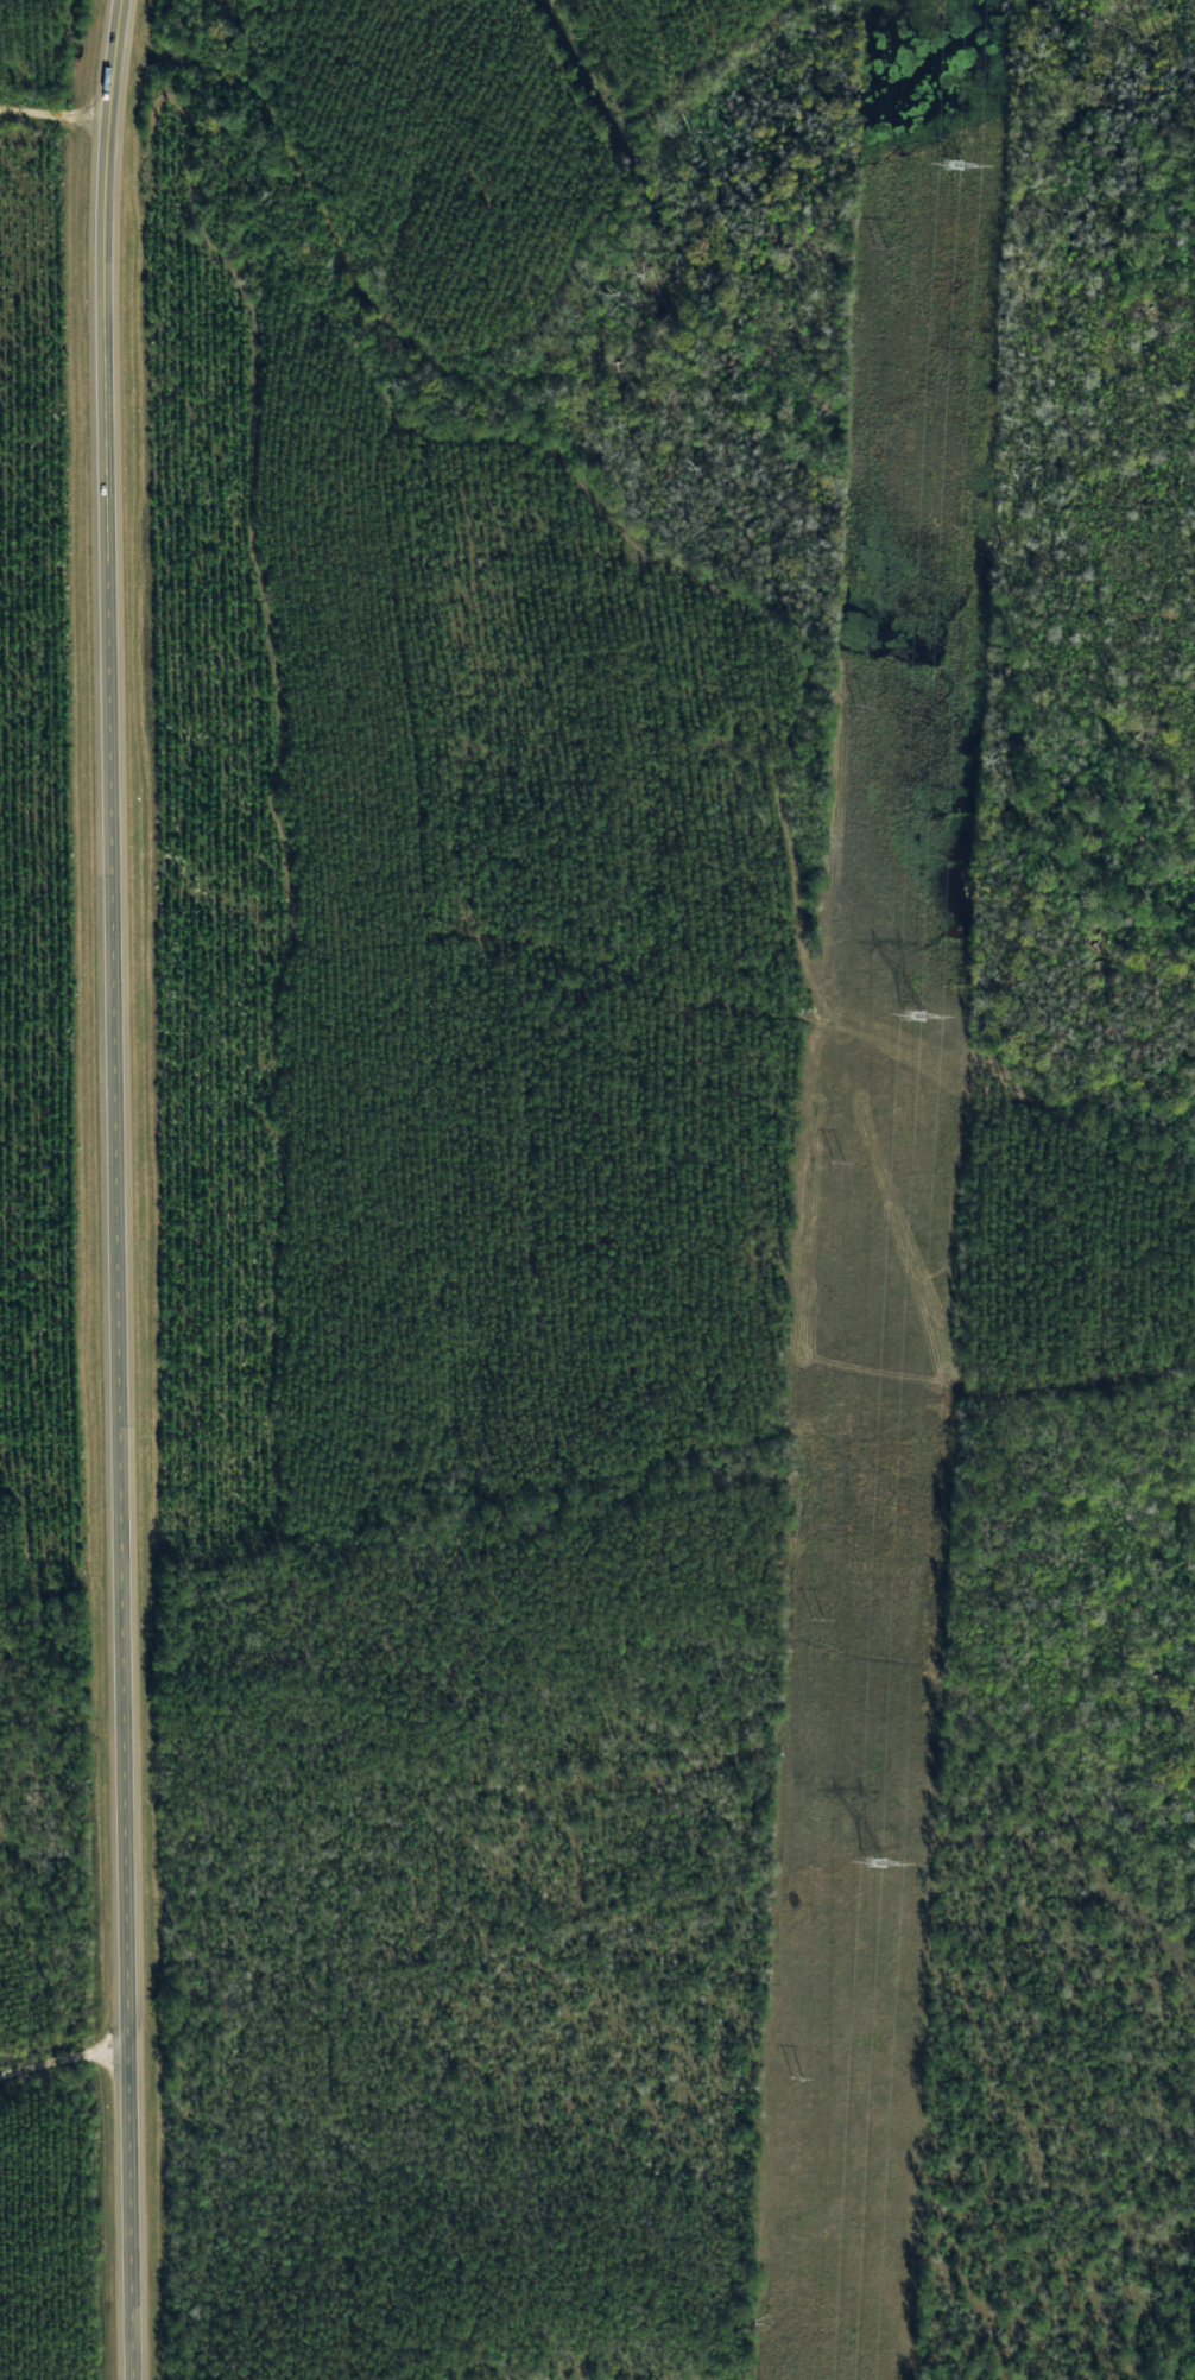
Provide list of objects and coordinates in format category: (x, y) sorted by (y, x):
road: (55, 116)
power tower: (944, 165)
power tower: (906, 1017)
road: (119, 1189)
power tower: (868, 1861)
road: (64, 2087)

